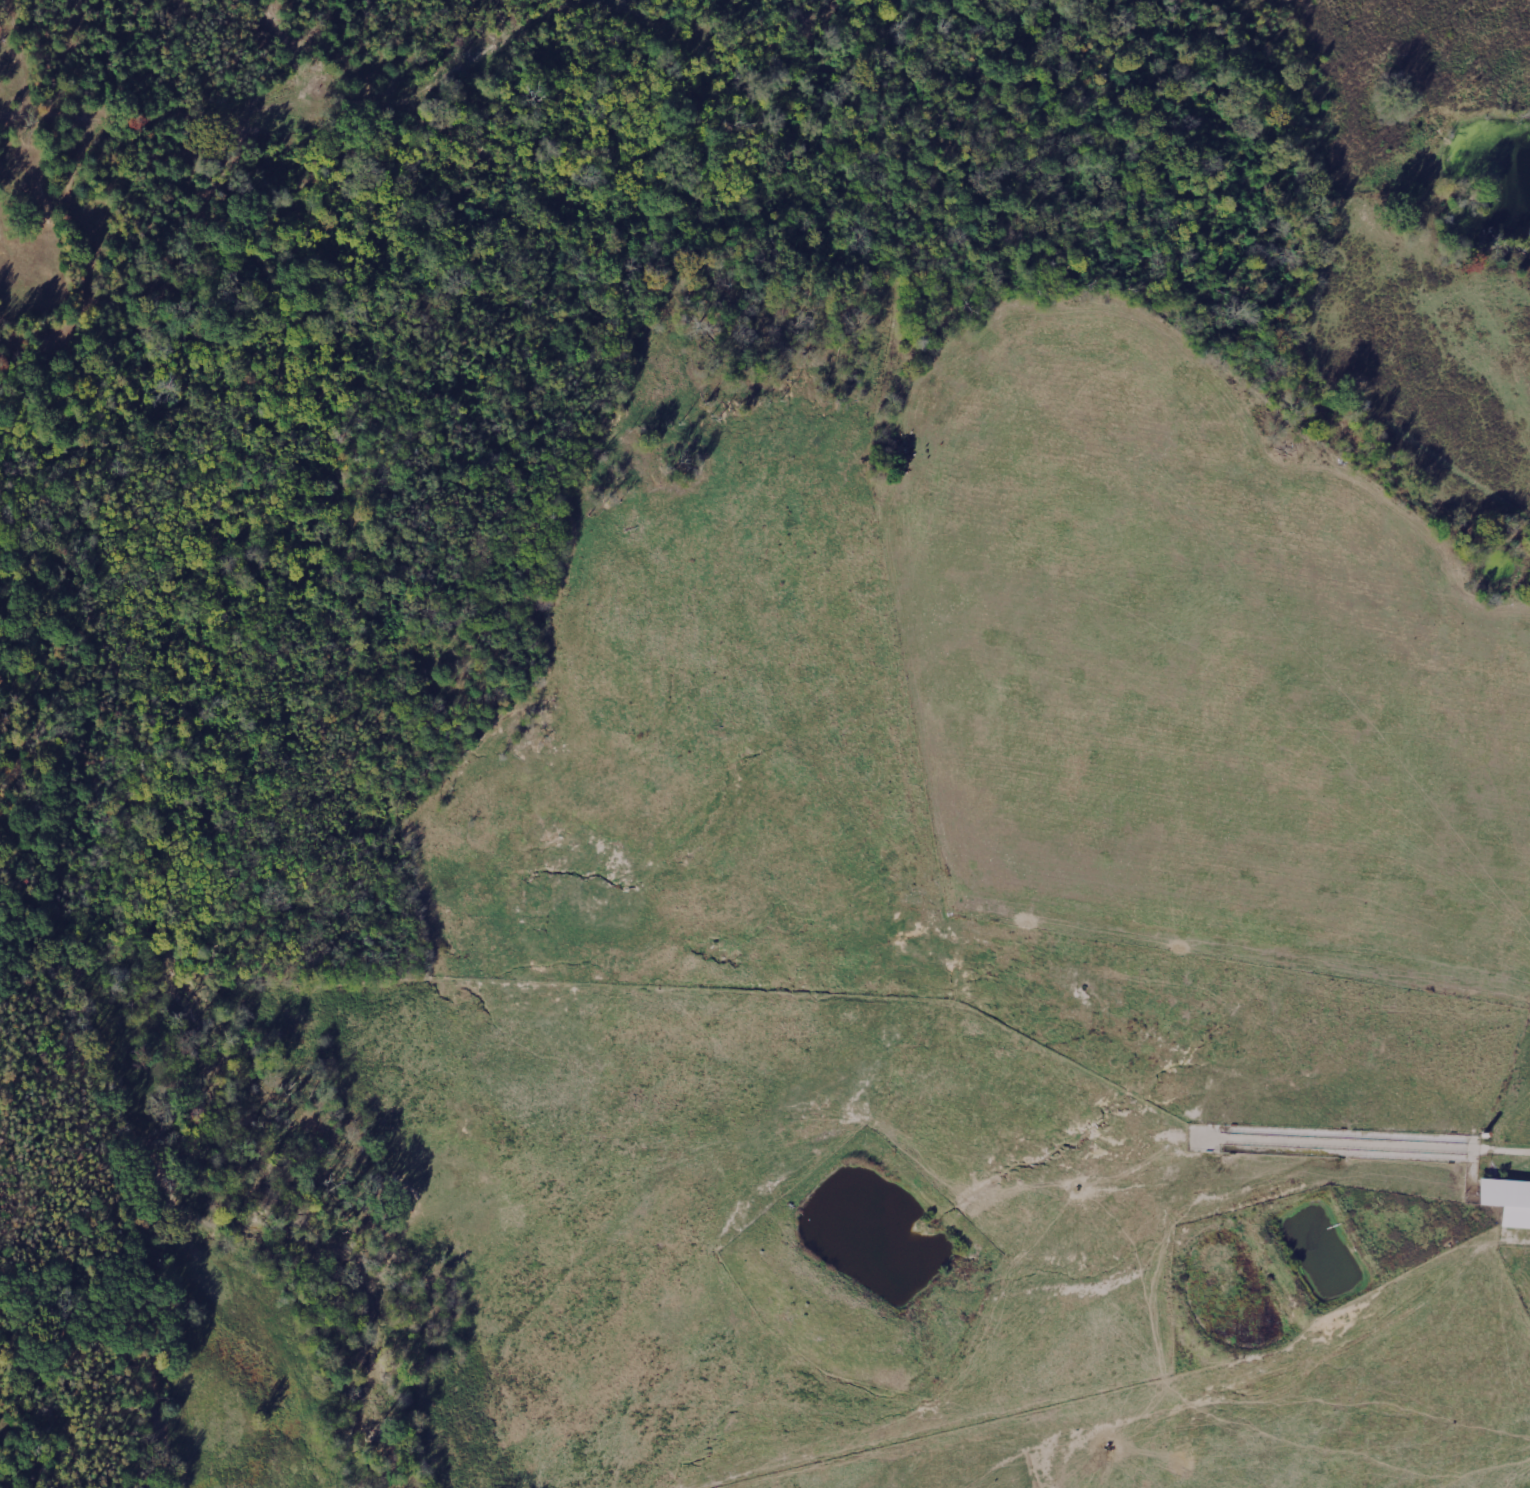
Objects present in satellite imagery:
building: (1505, 1201)

